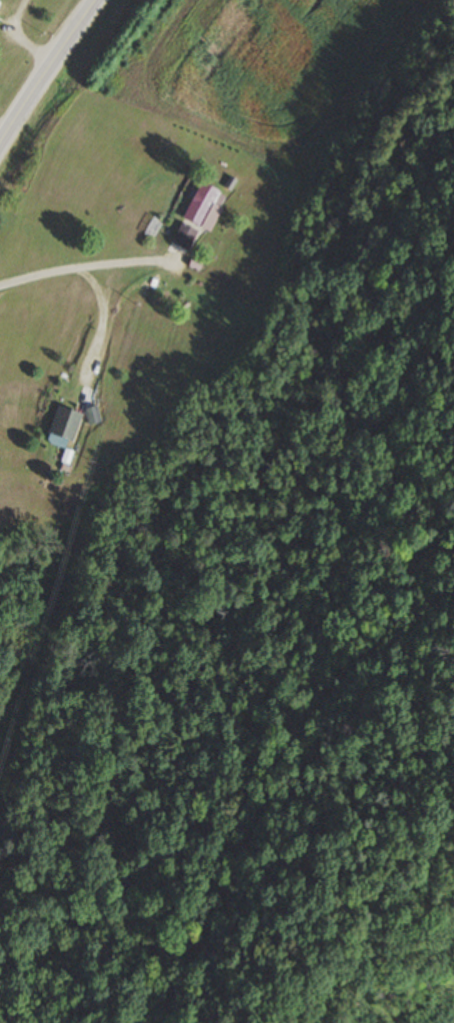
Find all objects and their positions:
road: (47, 70)
building: (203, 207)
building: (183, 236)
building: (91, 415)
building: (63, 423)

